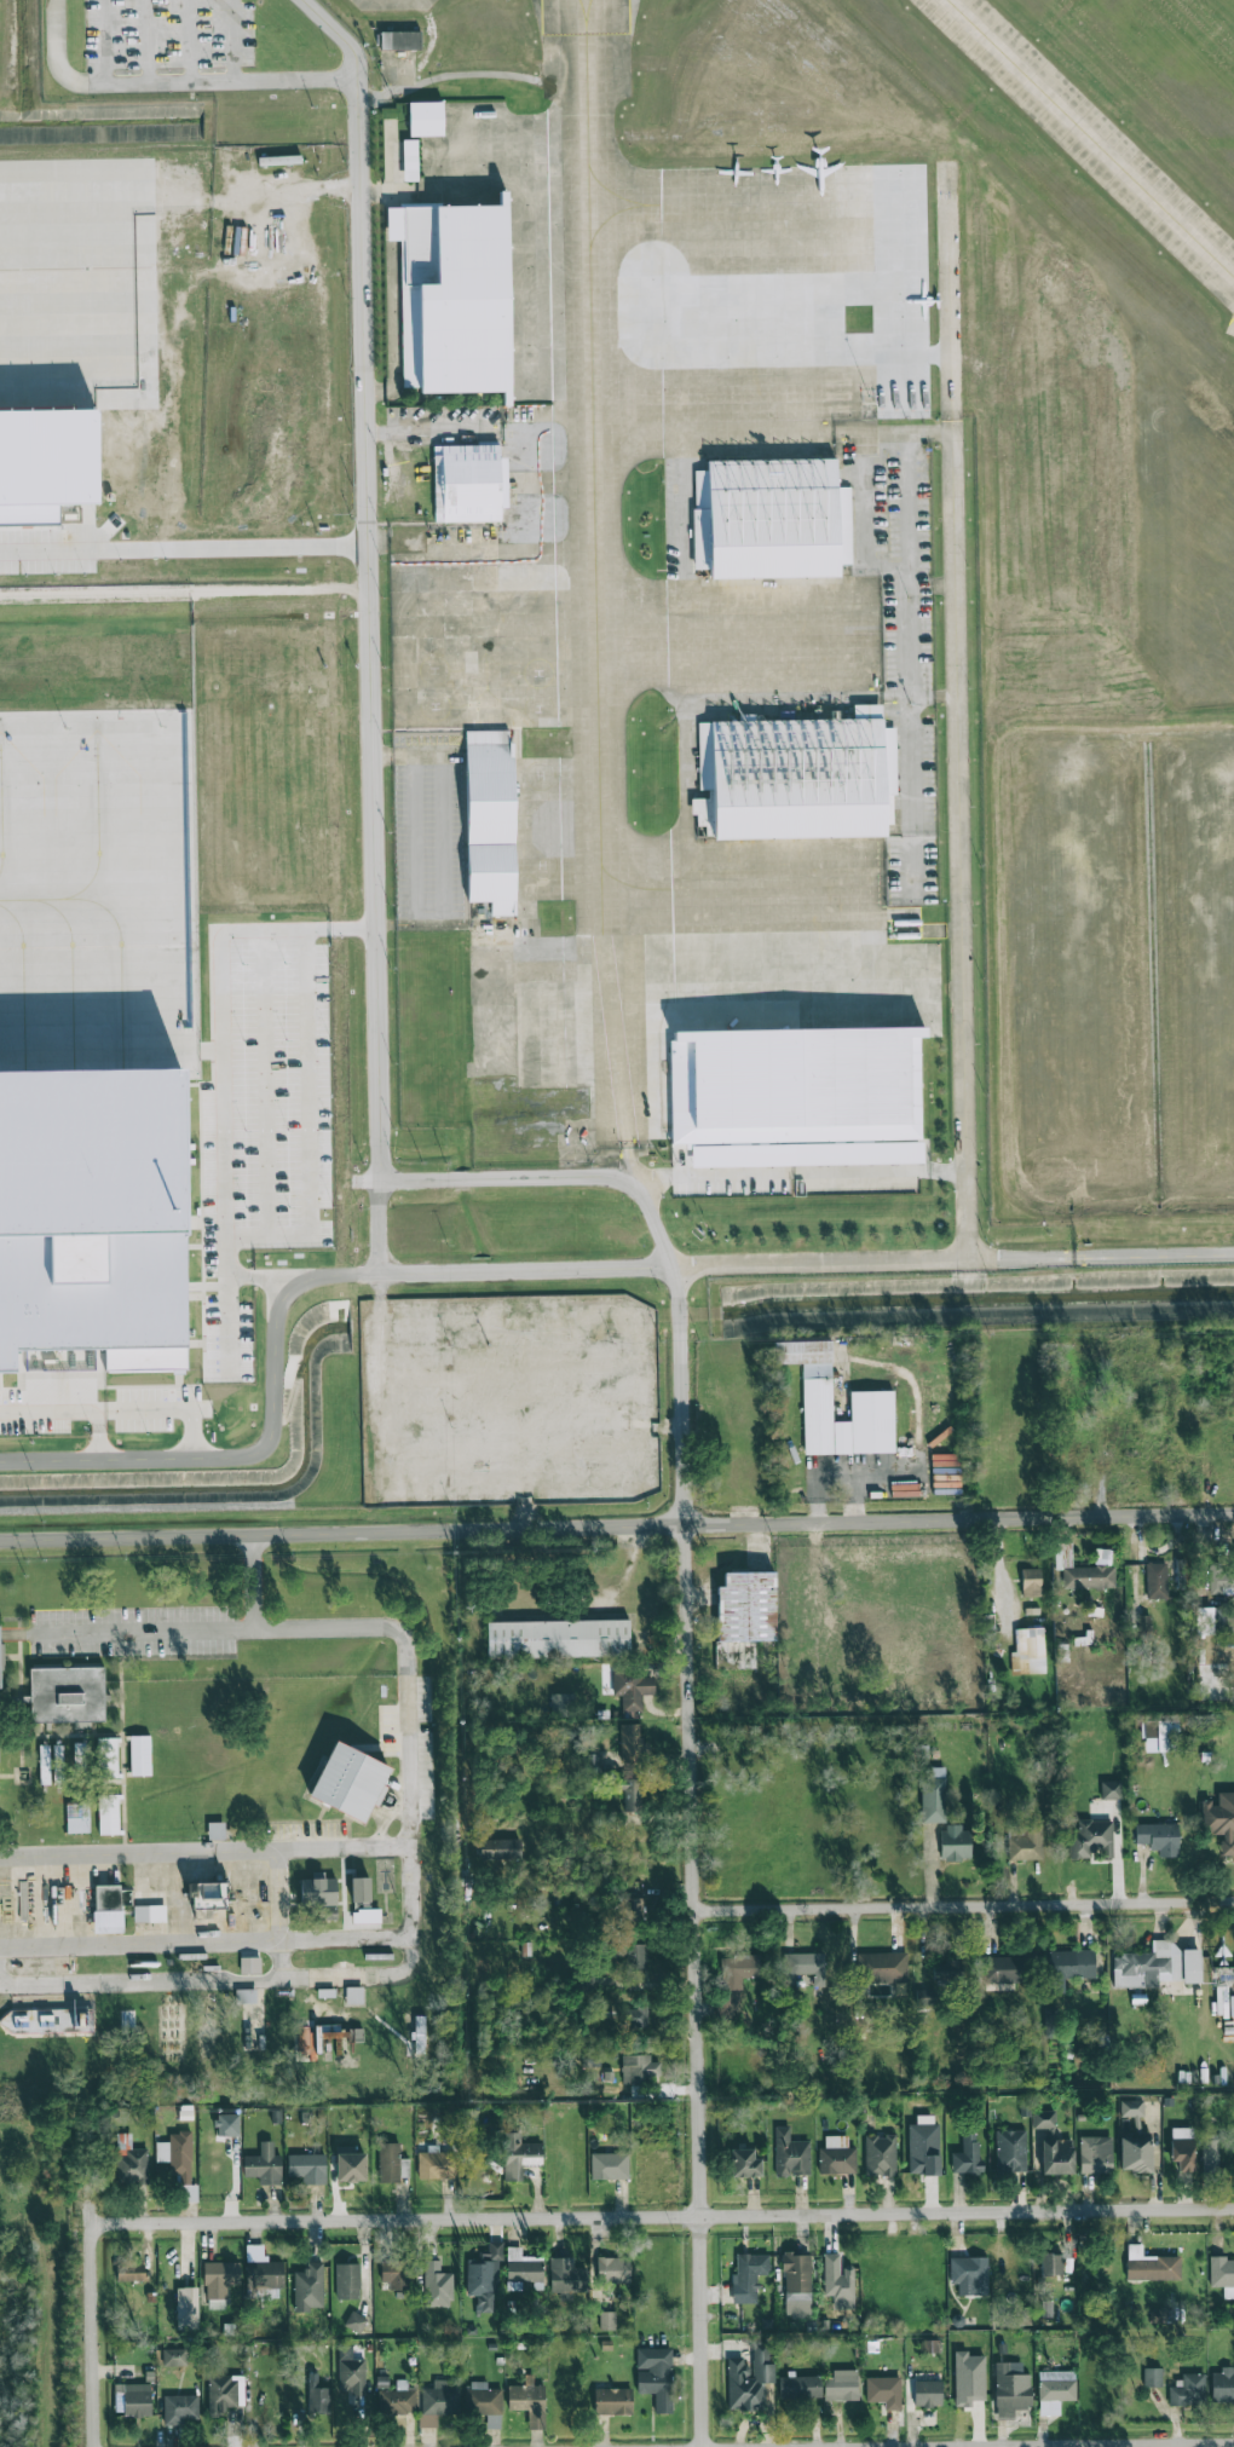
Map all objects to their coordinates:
airport apron: (394, 6)
airport taxiway: (583, 10)
parking lot: (168, 35)
road: (100, 41)
building: (397, 42)
road: (54, 58)
road: (490, 71)
road: (230, 81)
road: (374, 99)
building: (422, 122)
airport taxiway: (1090, 139)
building: (277, 160)
building: (409, 163)
road: (180, 196)
airport taxiway: (627, 208)
airport apron: (772, 219)
airport apron: (48, 284)
road: (950, 294)
building: (454, 296)
airport apron: (772, 414)
airport taxiway: (628, 417)
road: (433, 429)
airport hangar: (45, 462)
building: (45, 462)
building: (467, 486)
building: (775, 521)
road: (347, 538)
road: (162, 550)
road: (348, 552)
parking lot: (8, 566)
road: (911, 566)
airport apron: (504, 573)
airport taxiway: (599, 578)
road: (374, 579)
airport apron: (774, 637)
airport taxiway: (633, 644)
airport: (594, 682)
building: (797, 780)
road: (912, 787)
building: (491, 824)
road: (958, 838)
airport apron: (92, 881)
airport taxiway: (638, 893)
road: (500, 927)
road: (426, 929)
airport apron: (794, 1003)
road: (218, 1049)
building: (792, 1078)
road: (784, 1171)
parking lot: (859, 1176)
road: (490, 1178)
road: (648, 1208)
building: (93, 1214)
road: (377, 1225)
road: (1153, 1254)
road: (463, 1269)
building: (413, 1321)
road: (382, 1356)
road: (680, 1393)
building: (871, 1406)
road: (68, 1412)
road: (616, 1525)
building: (1063, 1554)
building: (1091, 1574)
building: (1217, 1577)
building: (1155, 1581)
building: (1031, 1582)
road: (264, 1585)
building: (745, 1608)
building: (1213, 1622)
building: (558, 1639)
building: (1027, 1651)
building: (630, 1690)
building: (67, 1695)
building: (561, 1704)
building: (1159, 1736)
road: (413, 1744)
building: (632, 1744)
building: (79, 1754)
building: (139, 1755)
building: (106, 1758)
building: (58, 1761)
building: (590, 1762)
building: (44, 1765)
building: (350, 1782)
building: (1109, 1790)
building: (630, 1794)
building: (933, 1795)
building: (108, 1814)
building: (77, 1817)
building: (1221, 1820)
building: (215, 1831)
building: (1091, 1839)
building: (1158, 1839)
building: (955, 1843)
building: (1025, 1843)
building: (500, 1849)
building: (359, 1889)
building: (208, 1894)
road: (279, 1894)
building: (319, 1895)
building: (106, 1898)
building: (125, 1899)
road: (964, 1904)
building: (632, 1909)
building: (149, 1914)
building: (365, 1916)
road: (390, 1937)
road: (140, 1943)
building: (636, 1956)
building: (249, 1966)
building: (805, 1966)
building: (1157, 1966)
building: (1069, 1967)
building: (881, 1968)
building: (1002, 1969)
building: (946, 1974)
road: (160, 1980)
road: (697, 1985)
building: (246, 1996)
building: (353, 1996)
building: (633, 2016)
building: (47, 2021)
building: (1050, 2022)
building: (306, 2043)
building: (640, 2068)
building: (609, 2079)
building: (1131, 2107)
building: (1043, 2119)
building: (226, 2125)
building: (923, 2146)
building: (1010, 2151)
building: (1182, 2151)
building: (175, 2152)
building: (790, 2154)
building: (1095, 2154)
building: (1136, 2154)
building: (519, 2155)
building: (880, 2155)
building: (967, 2155)
building: (836, 2157)
building: (1210, 2157)
building: (1056, 2158)
building: (129, 2163)
building: (392, 2164)
building: (744, 2164)
building: (436, 2165)
building: (263, 2166)
building: (609, 2166)
building: (350, 2168)
building: (307, 2169)
building: (188, 2194)
road: (663, 2216)
building: (1045, 2264)
building: (1151, 2266)
building: (261, 2267)
building: (521, 2268)
building: (129, 2270)
building: (613, 2270)
building: (394, 2272)
road: (94, 2275)
building: (566, 2275)
building: (969, 2275)
building: (1222, 2275)
building: (484, 2278)
building: (745, 2279)
building: (219, 2282)
building: (347, 2282)
building: (837, 2282)
building: (796, 2285)
building: (437, 2286)
building: (308, 2289)
building: (186, 2307)
building: (607, 2321)
building: (354, 2322)
building: (174, 2357)
building: (350, 2371)
building: (749, 2377)
building: (1151, 2377)
building: (655, 2378)
building: (968, 2378)
building: (1222, 2385)
building: (841, 2387)
building: (800, 2388)
building: (1010, 2390)
building: (1054, 2391)
building: (1188, 2391)
building: (883, 2393)
building: (224, 2394)
building: (927, 2394)
building: (317, 2397)
building: (394, 2399)
building: (484, 2399)
building: (134, 2400)
building: (612, 2402)
building: (437, 2403)
building: (530, 2403)
building: (179, 2410)
road: (1121, 2445)

